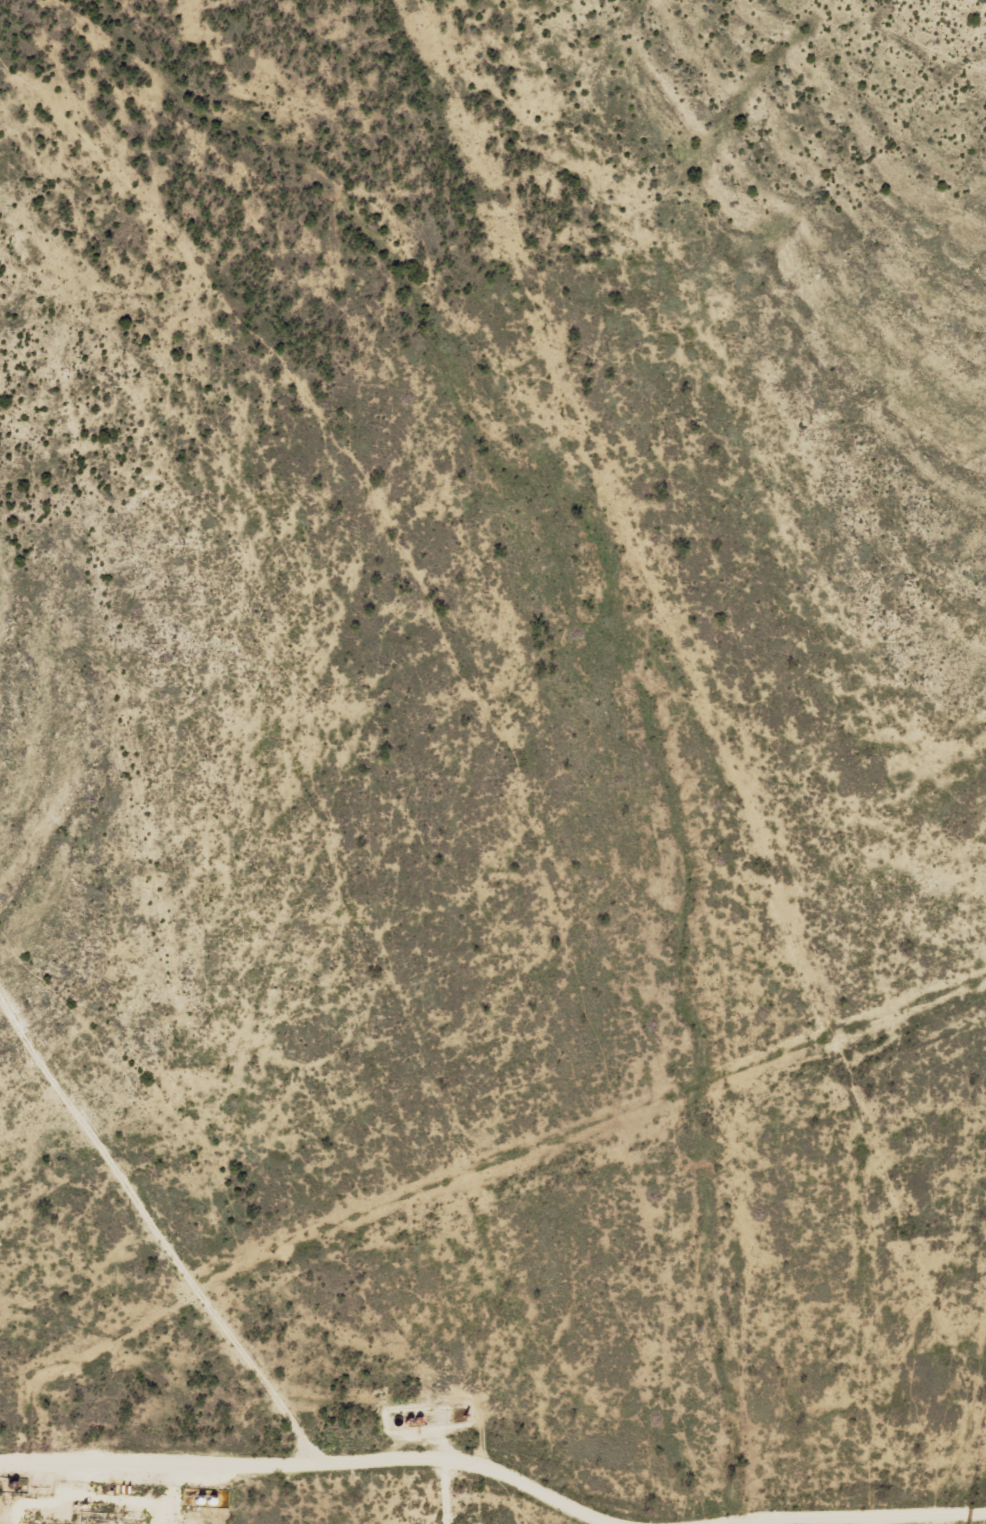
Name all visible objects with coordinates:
road: (159, 1212)
road: (299, 1468)

